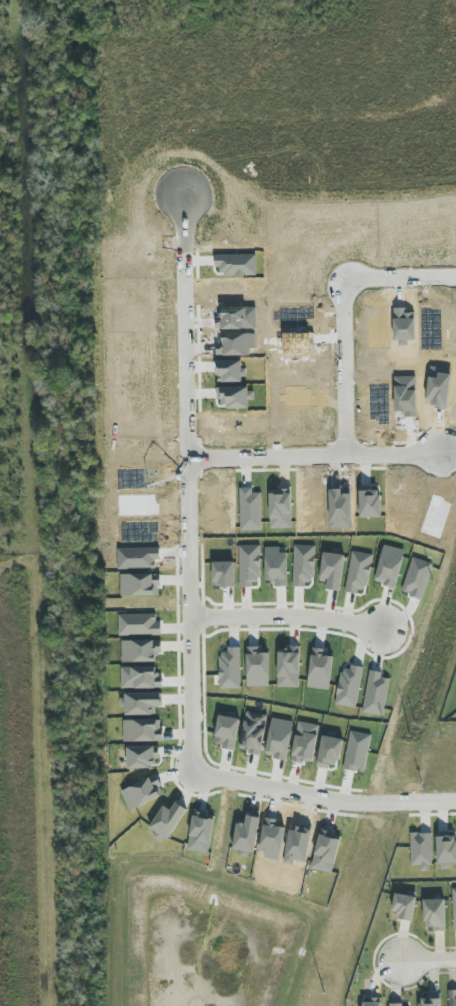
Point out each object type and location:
road: (341, 313)
road: (312, 455)
building: (139, 585)
road: (190, 613)
road: (287, 617)
building: (140, 651)
building: (140, 678)
building: (142, 730)
building: (253, 733)
building: (279, 738)
building: (305, 742)
building: (330, 752)
building: (141, 757)
building: (142, 793)
building: (168, 820)
building: (246, 836)
building: (446, 850)
building: (421, 851)
building: (404, 907)
building: (454, 907)
building: (434, 914)
road: (427, 961)
building: (452, 998)
building: (371, 1002)
building: (430, 1002)
building: (399, 1004)

